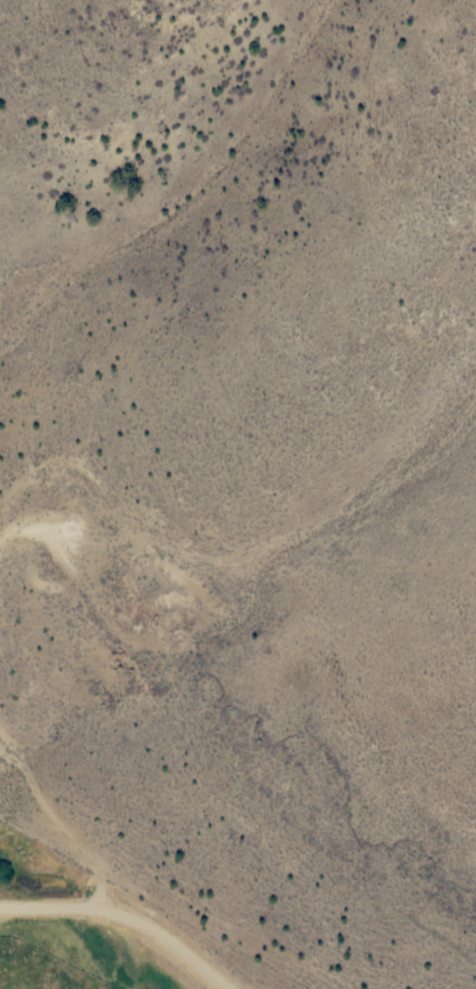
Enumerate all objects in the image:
road: (122, 923)

